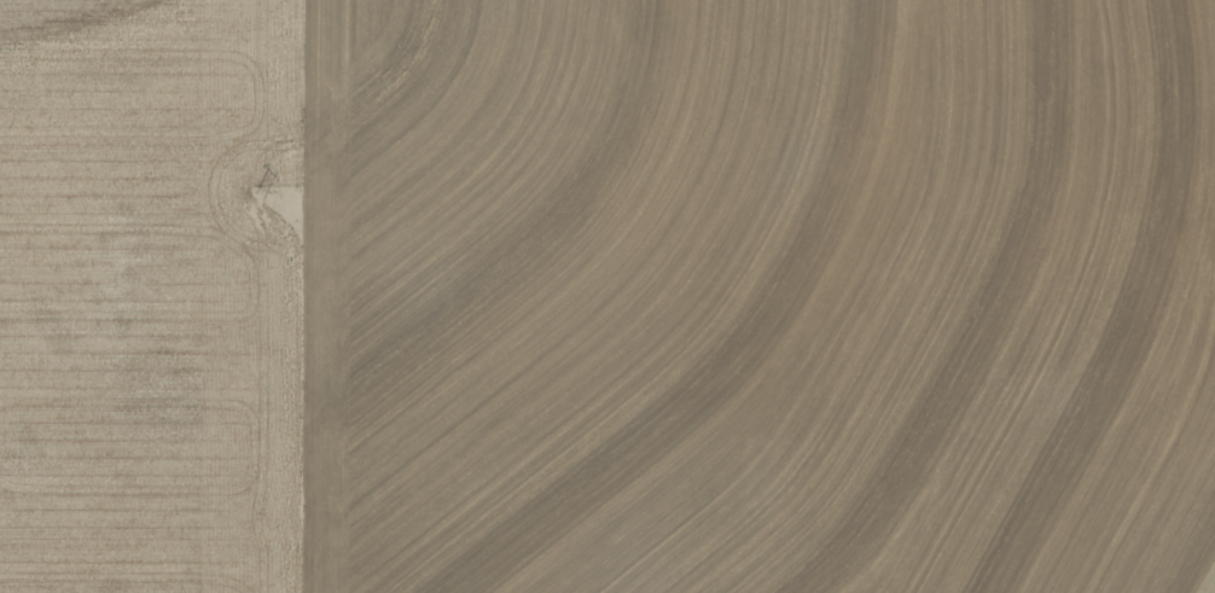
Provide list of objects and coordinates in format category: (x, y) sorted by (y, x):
power tower: (289, 196)

